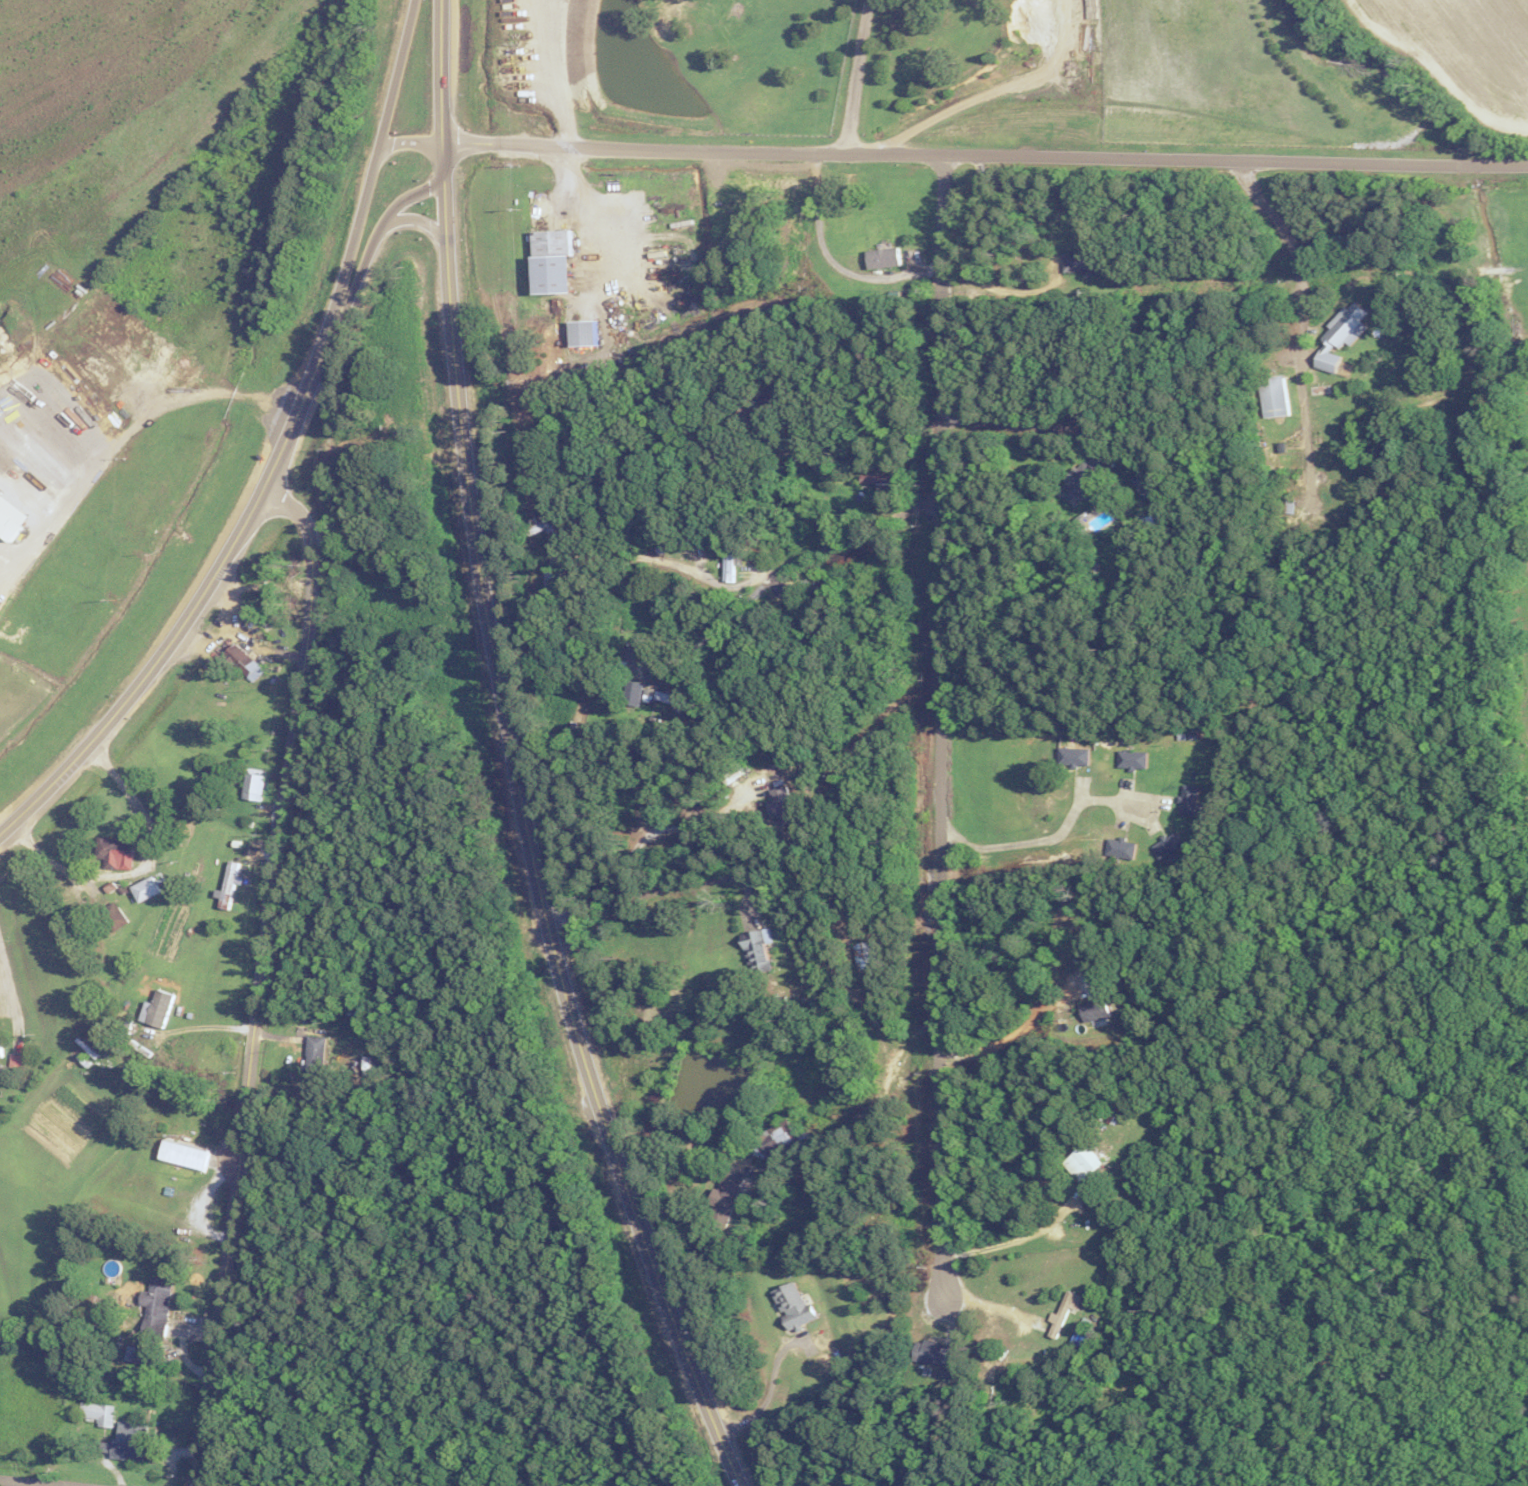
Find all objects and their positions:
road: (552, 74)
road: (855, 77)
road: (443, 88)
road: (993, 89)
road: (410, 142)
road: (985, 156)
road: (377, 158)
road: (419, 219)
road: (379, 236)
building: (880, 256)
building: (550, 260)
building: (1086, 260)
road: (830, 261)
road: (977, 273)
road: (1297, 326)
building: (582, 333)
building: (1341, 334)
building: (97, 367)
building: (1274, 395)
road: (1018, 426)
road: (127, 436)
road: (870, 444)
building: (1083, 483)
building: (546, 524)
building: (672, 544)
building: (731, 562)
road: (759, 578)
building: (553, 588)
building: (812, 589)
road: (201, 596)
road: (716, 629)
building: (243, 661)
building: (635, 693)
building: (674, 698)
road: (940, 731)
building: (1074, 756)
building: (1133, 759)
building: (254, 784)
building: (1189, 797)
building: (784, 806)
road: (1055, 834)
road: (648, 838)
building: (1168, 843)
road: (530, 845)
building: (1121, 847)
building: (115, 852)
road: (138, 872)
building: (230, 885)
building: (145, 890)
road: (668, 890)
building: (114, 916)
building: (757, 949)
building: (866, 954)
road: (261, 976)
road: (8, 1000)
building: (157, 1008)
building: (1095, 1008)
road: (195, 1028)
road: (1020, 1028)
building: (0, 1048)
building: (315, 1053)
road: (682, 1138)
building: (773, 1139)
building: (183, 1154)
building: (1082, 1161)
building: (724, 1197)
road: (1024, 1237)
building: (794, 1305)
building: (156, 1306)
building: (1064, 1311)
building: (931, 1352)
road: (770, 1391)
building: (99, 1413)
building: (130, 1442)
road: (28, 1483)

